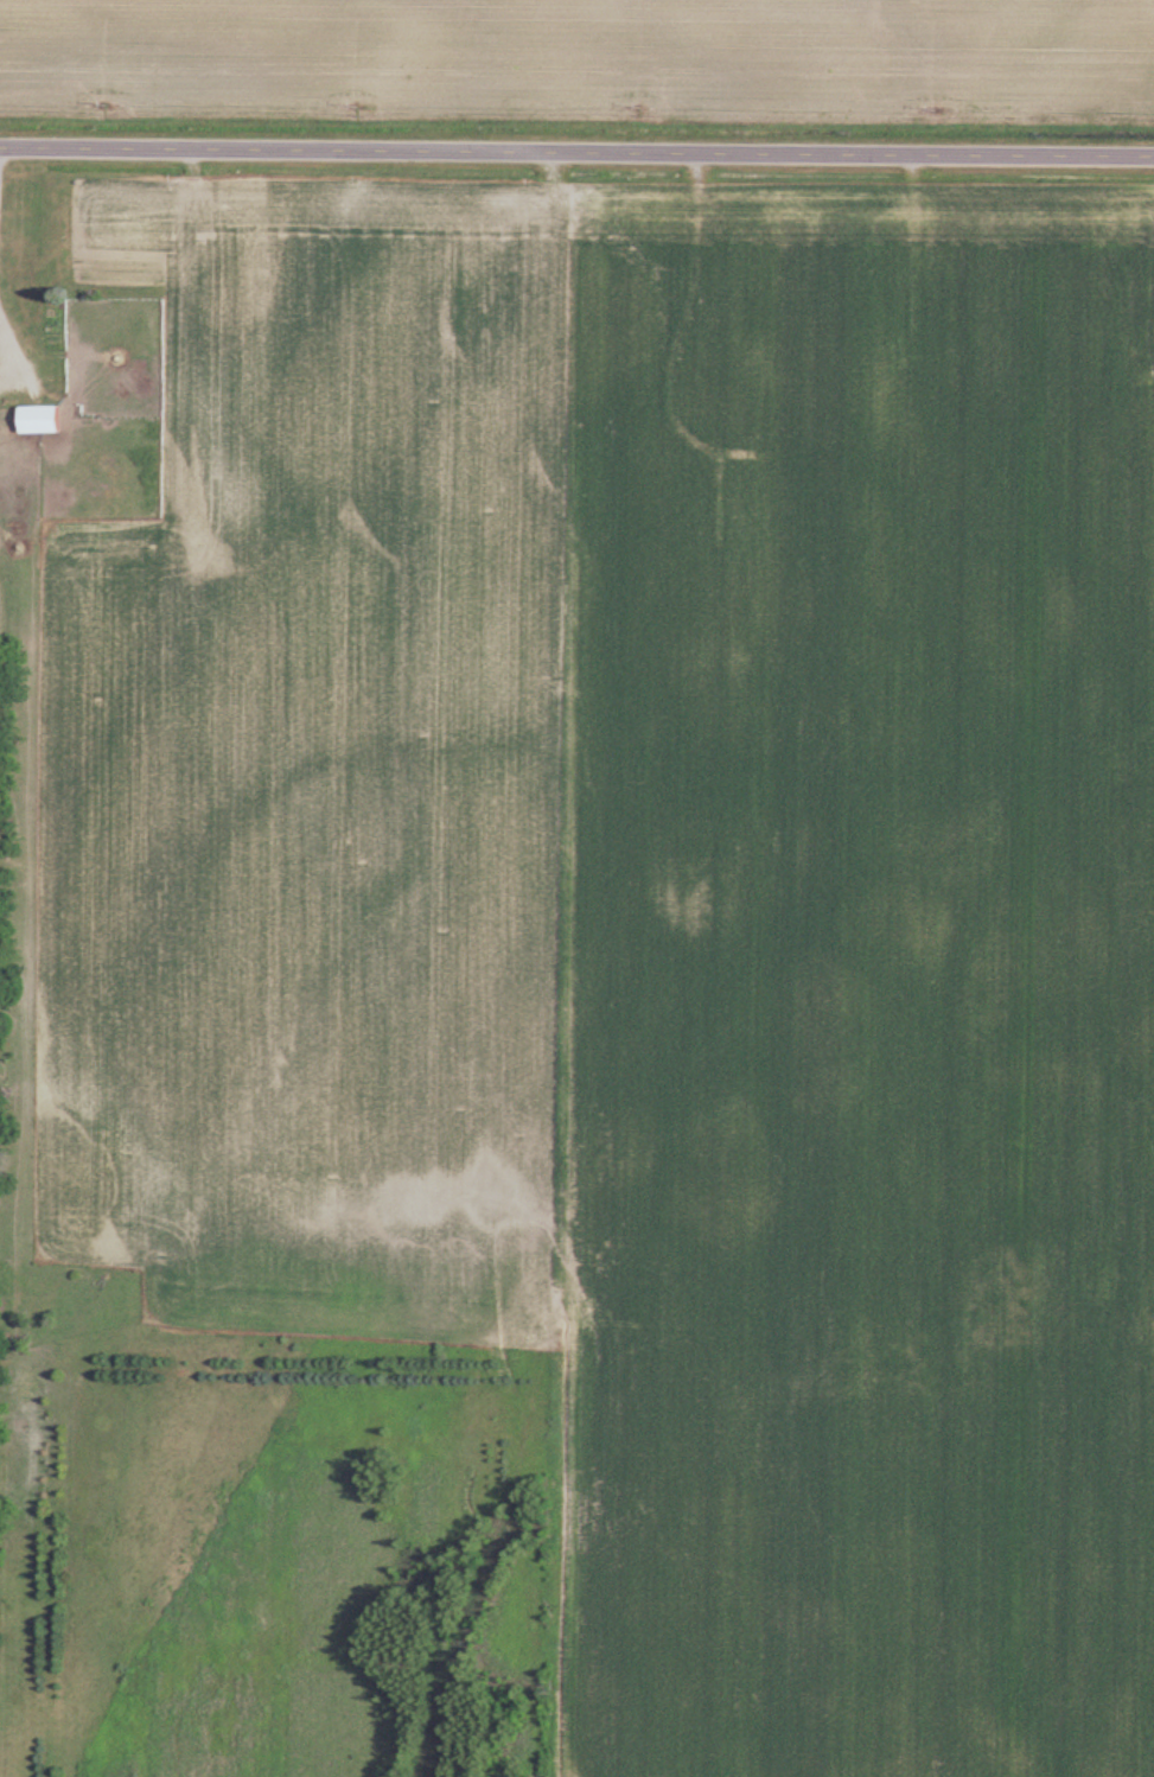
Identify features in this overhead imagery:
road: (576, 153)
building: (58, 333)
building: (42, 420)

